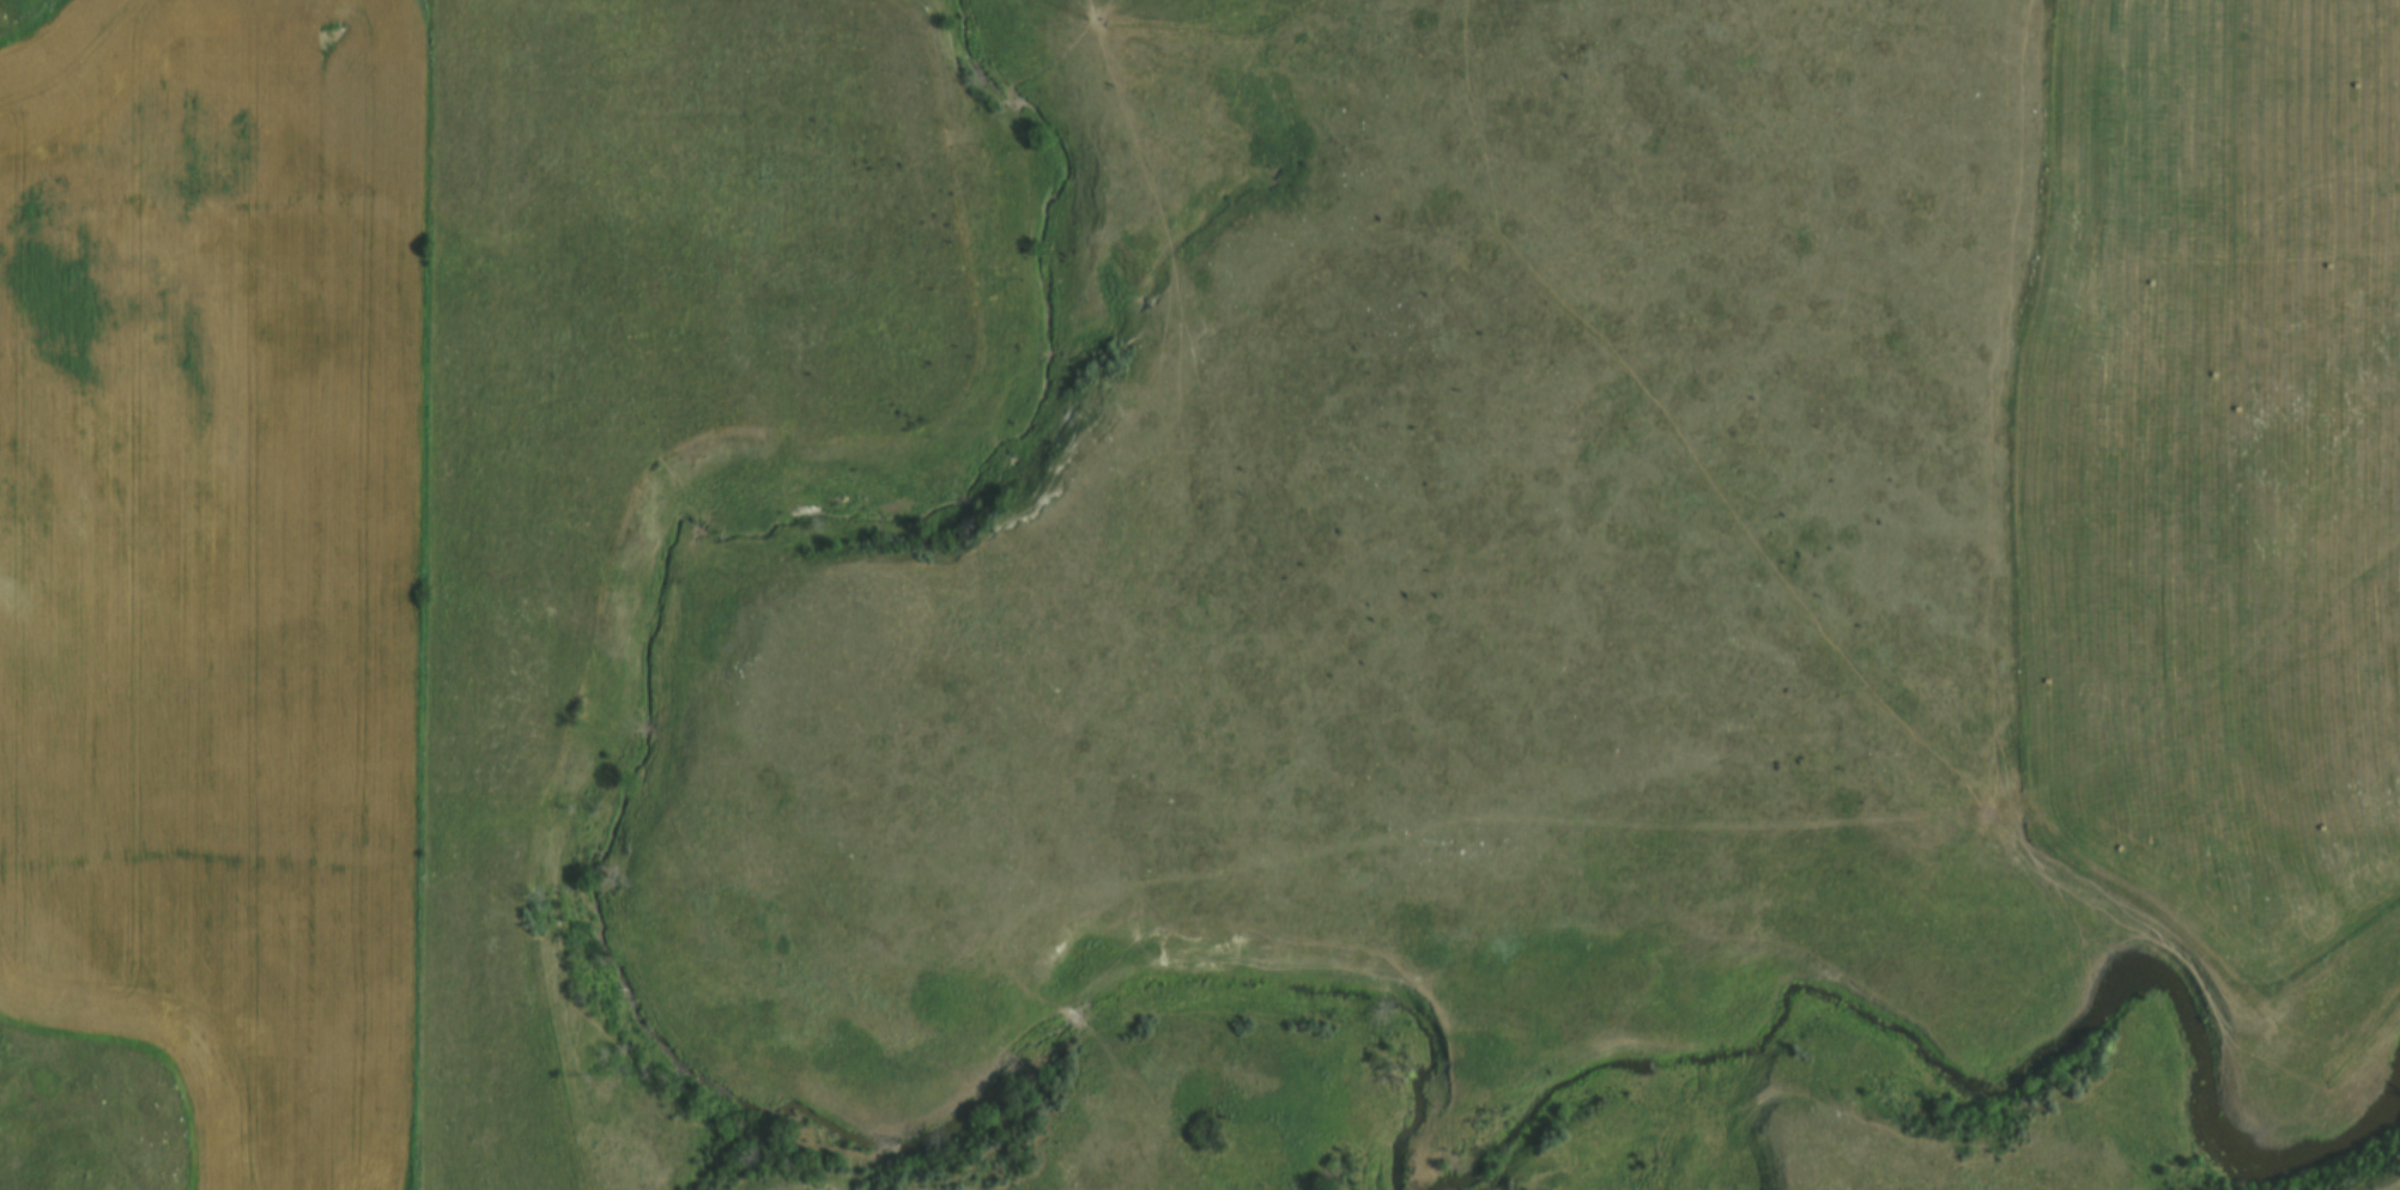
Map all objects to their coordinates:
road: (2220, 961)

